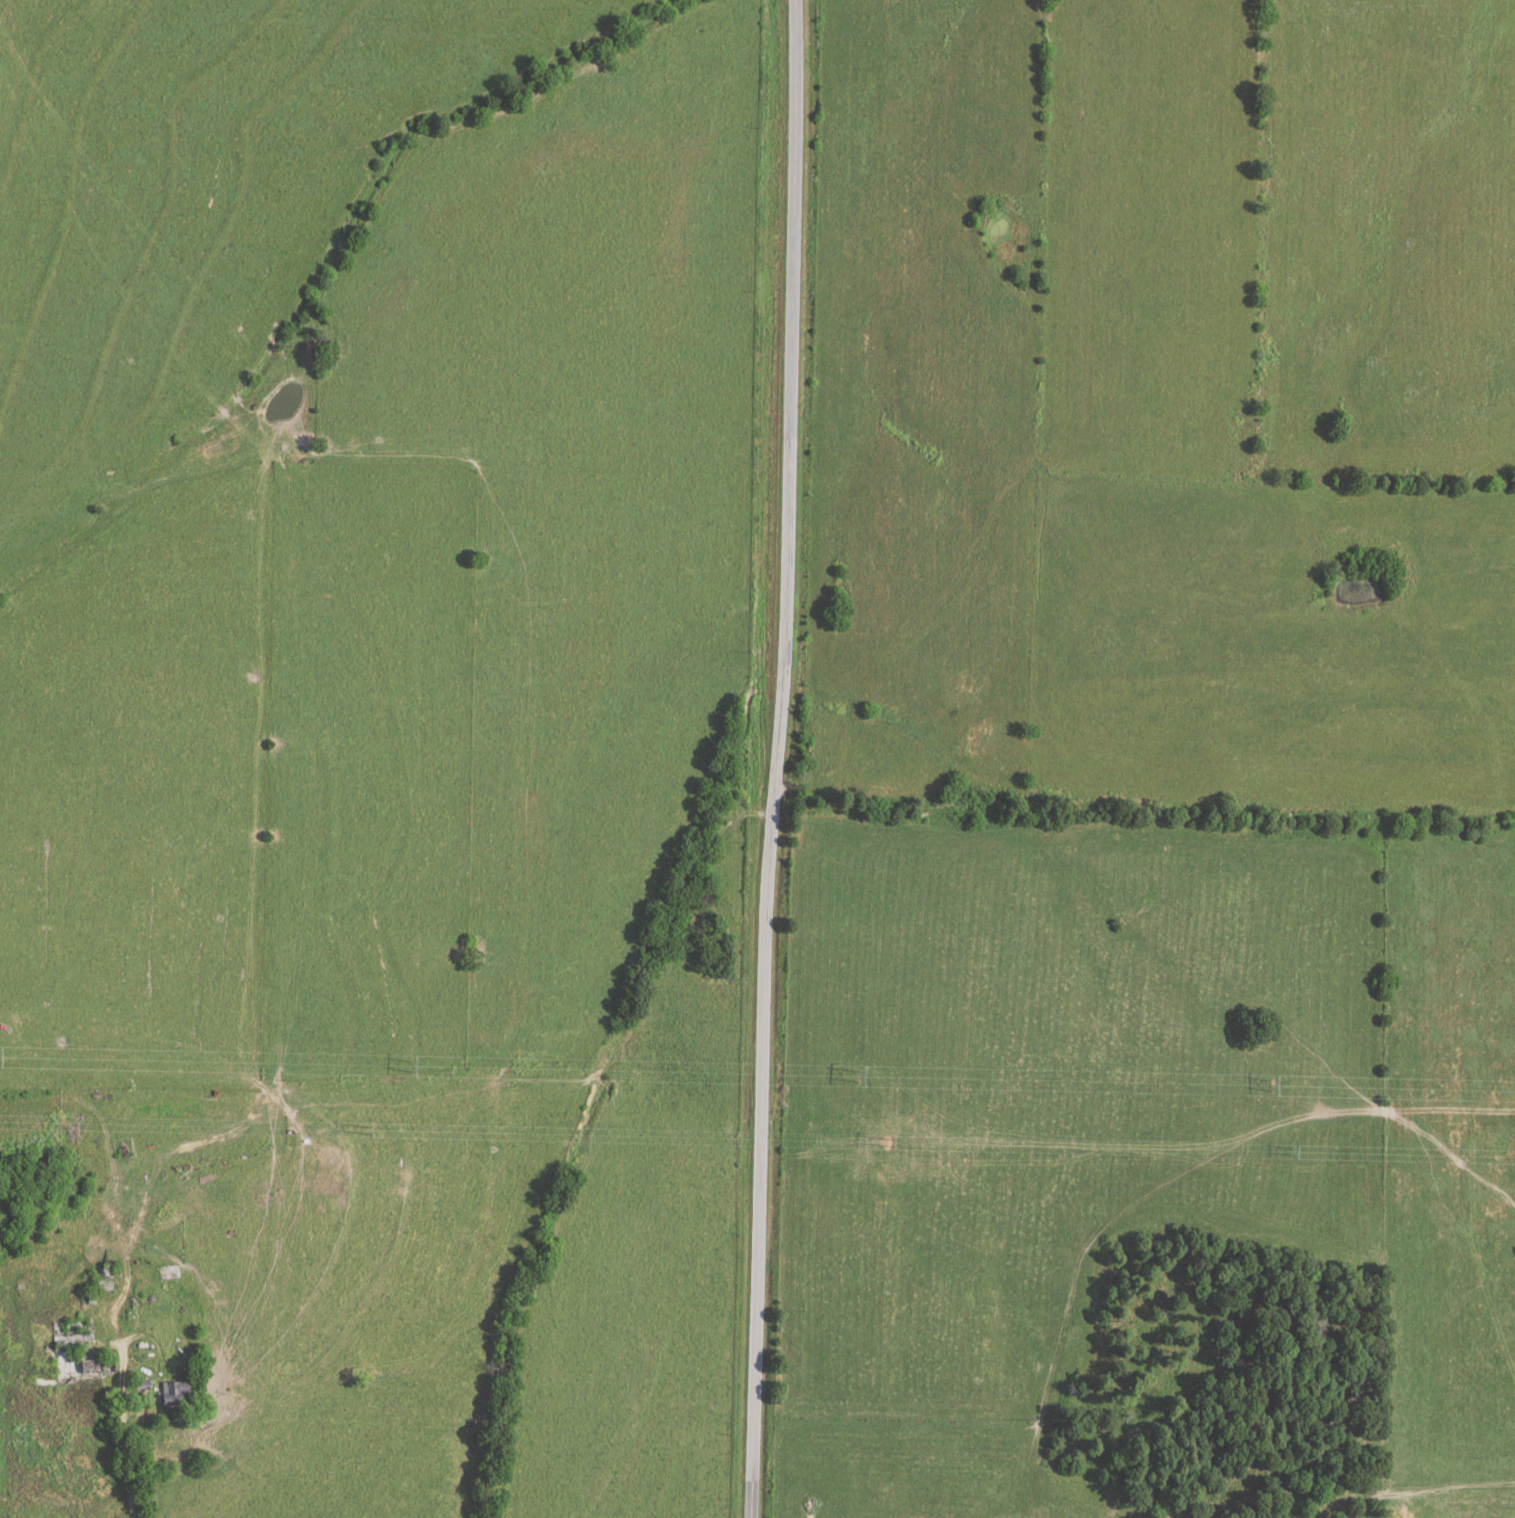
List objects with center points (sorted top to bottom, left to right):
road: (776, 759)
power tower: (410, 1066)
power tower: (856, 1075)
power tower: (1270, 1084)
building: (171, 1392)
road: (117, 1396)

